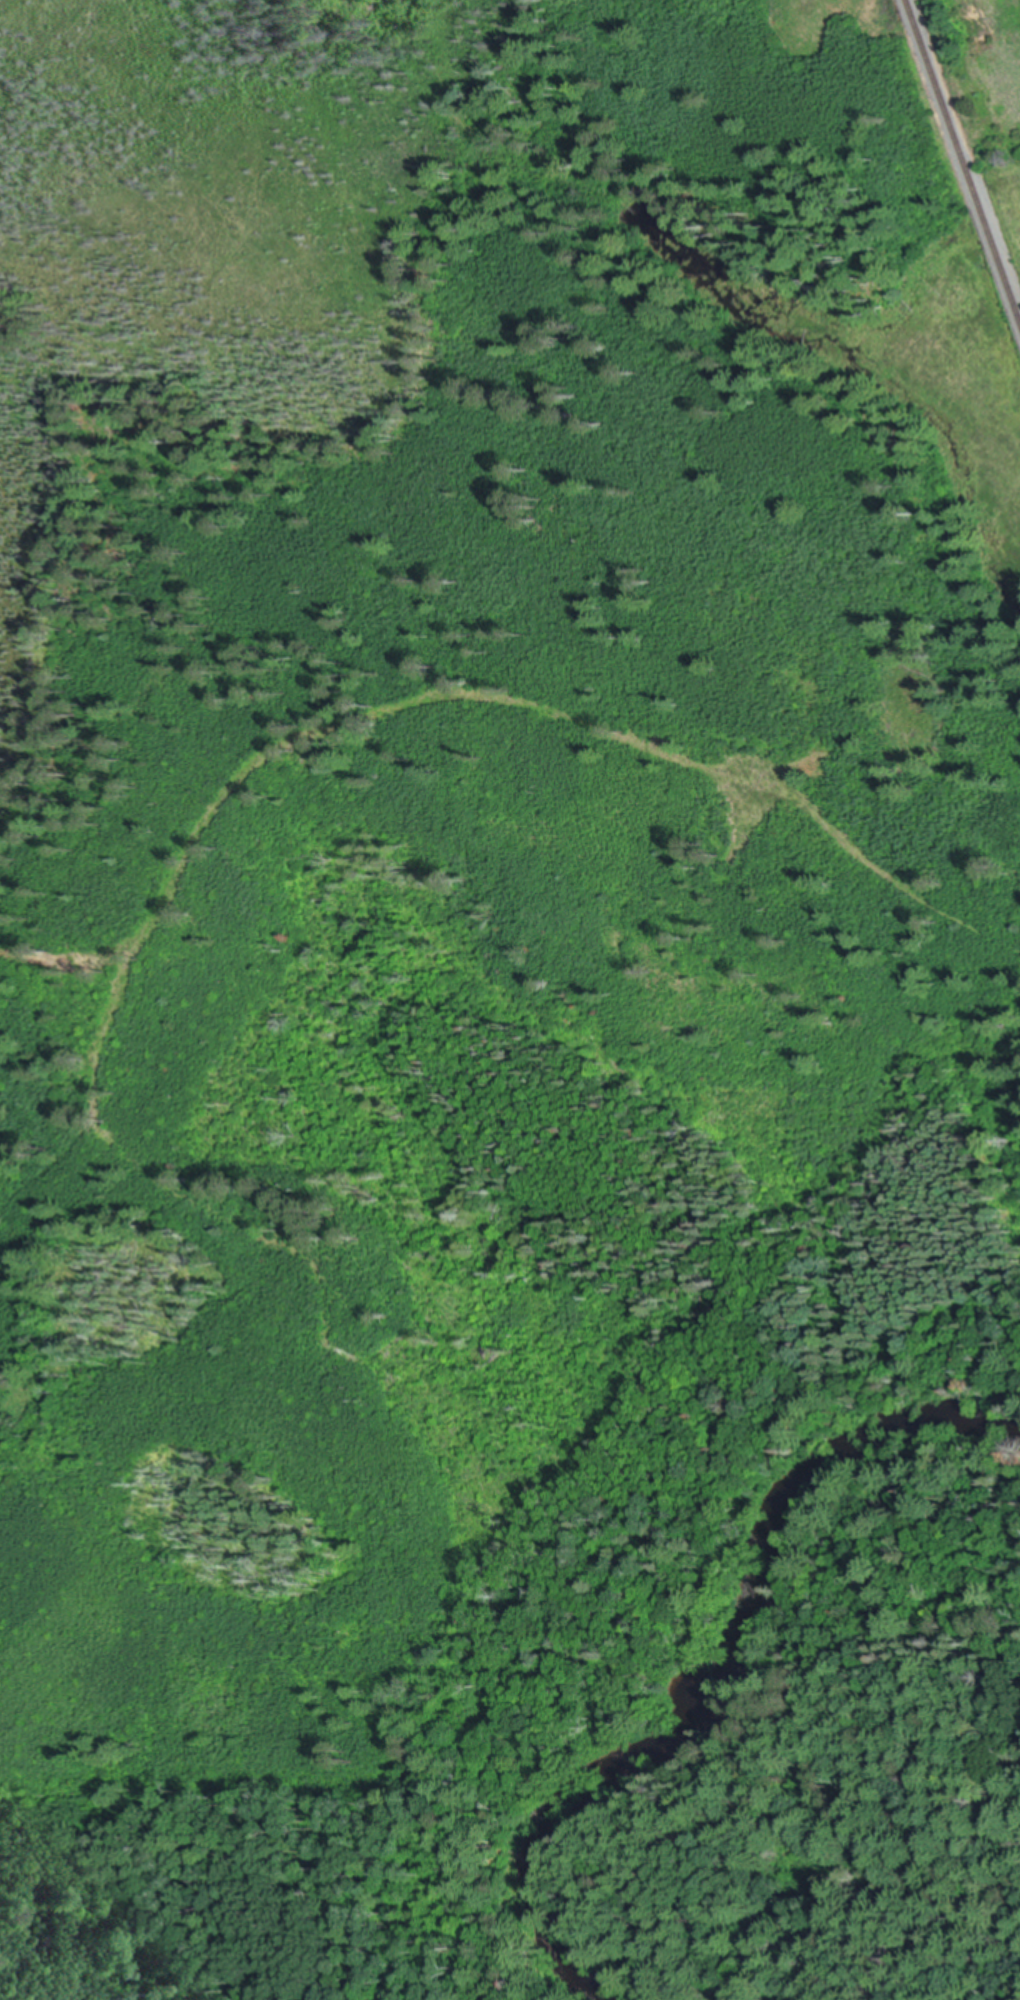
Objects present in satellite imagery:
railway: (962, 163)
river: (717, 1684)

